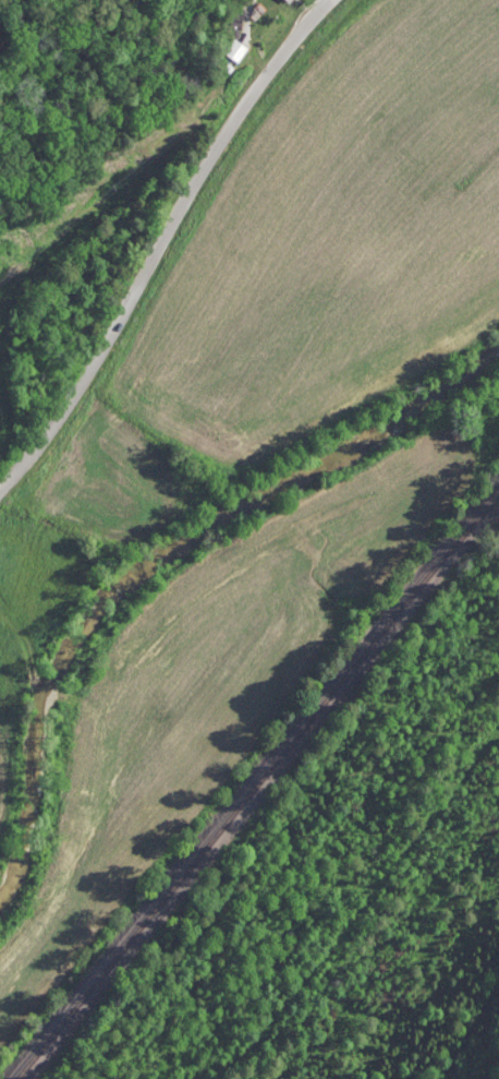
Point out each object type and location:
building: (280, 0)
building: (288, 1)
building: (231, 49)
road: (187, 200)
road: (33, 455)
railway: (253, 784)

